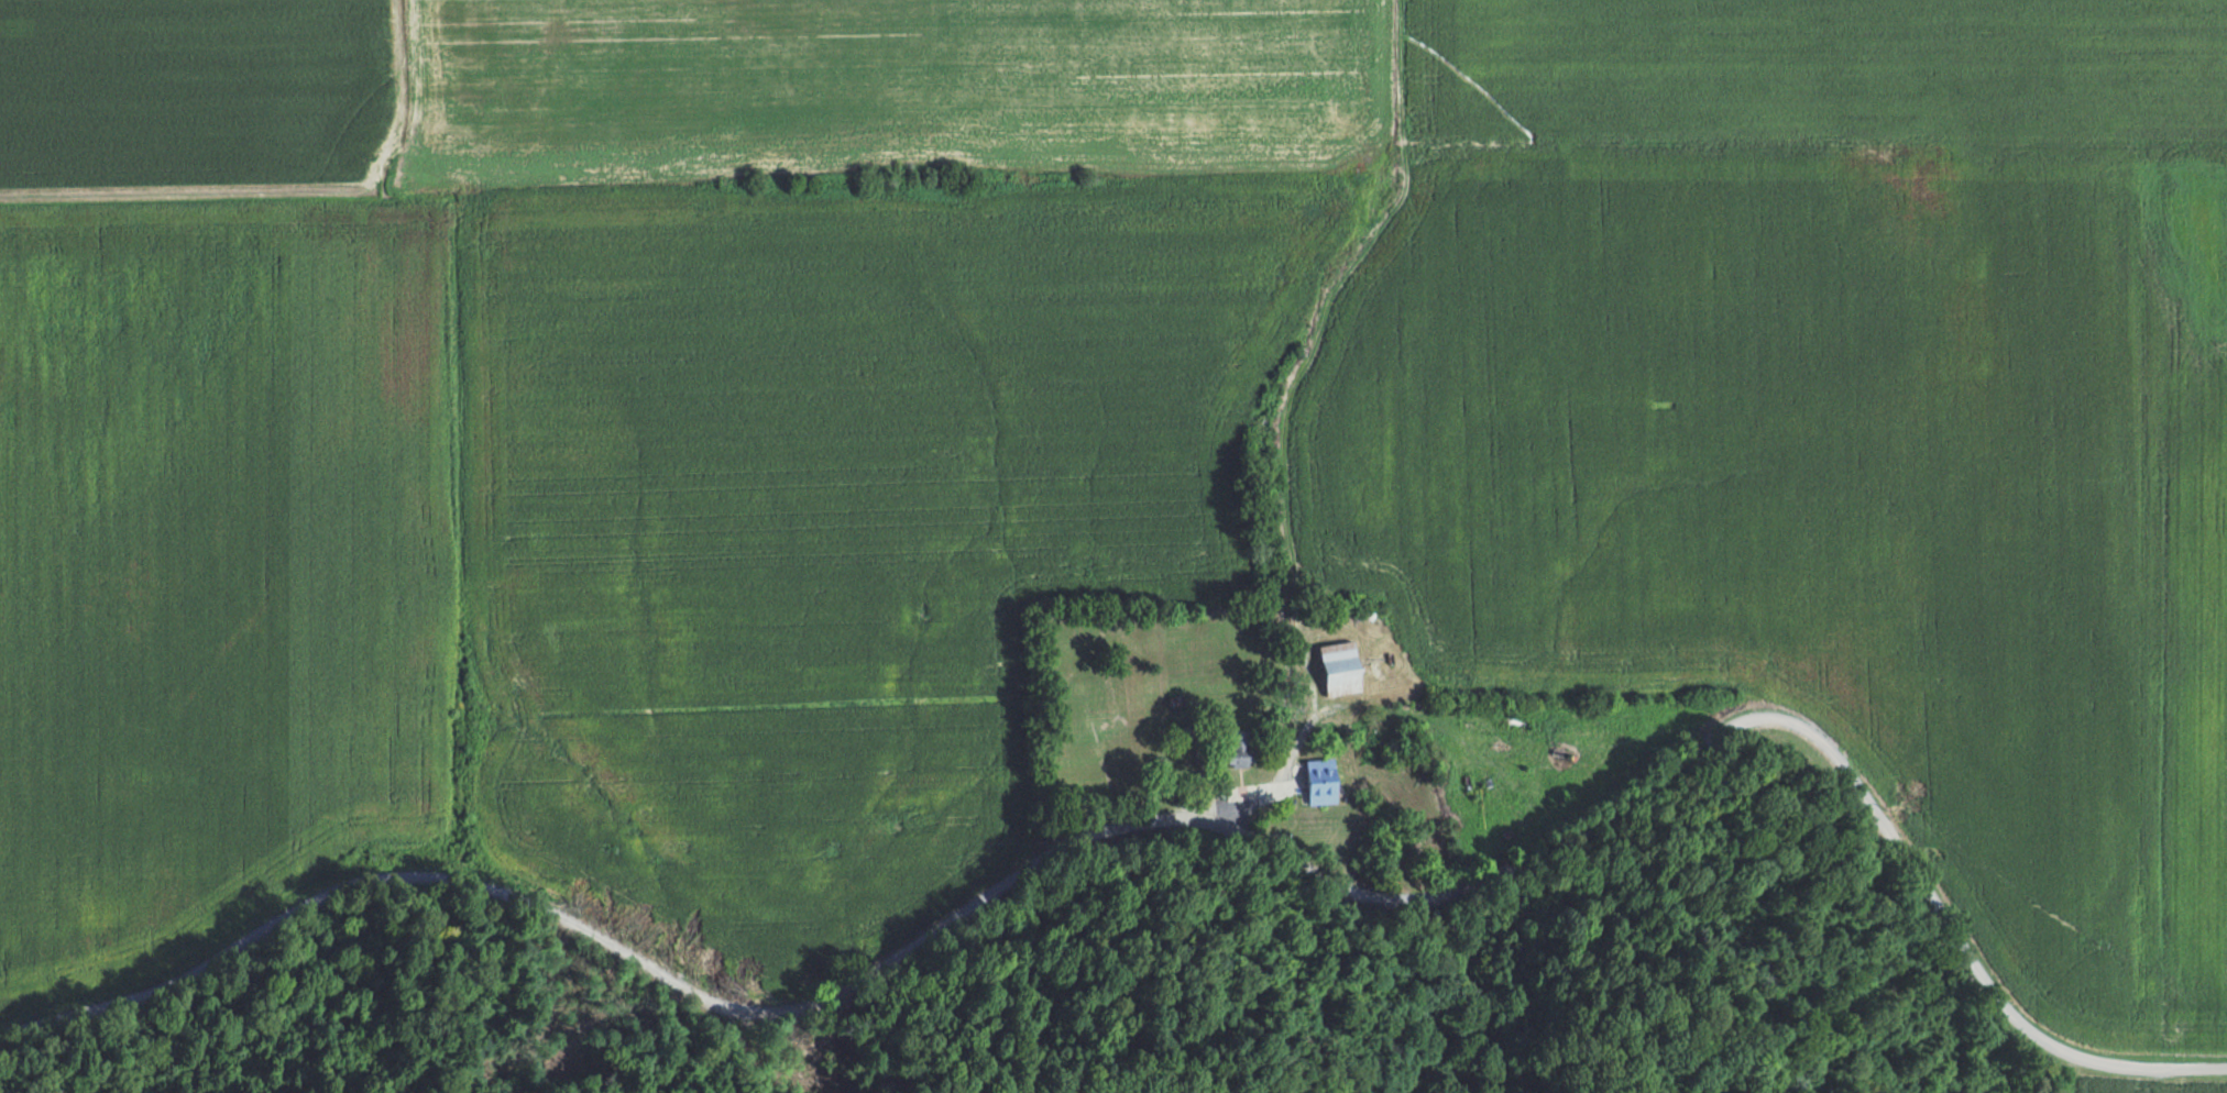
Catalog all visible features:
building: (1342, 666)
building: (1241, 747)
building: (1323, 780)
road: (1171, 824)

